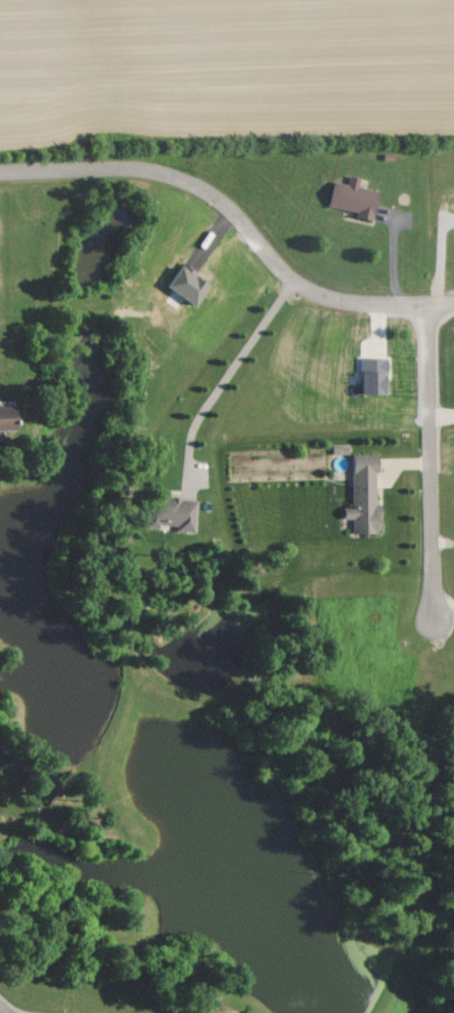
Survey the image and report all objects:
building: (356, 197)
road: (236, 217)
building: (191, 283)
building: (375, 374)
road: (222, 381)
building: (10, 417)
building: (342, 449)
road: (431, 459)
building: (366, 494)
building: (180, 514)
road: (2, 1010)

